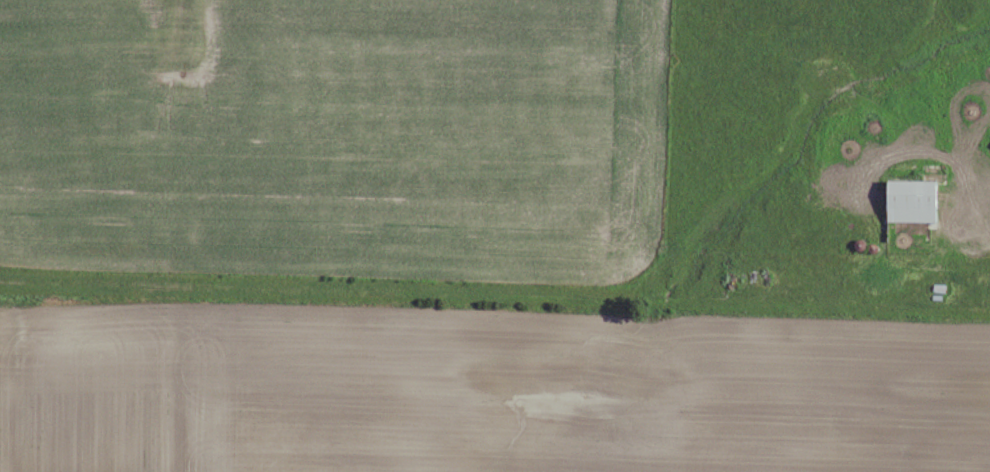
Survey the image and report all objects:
building: (909, 200)

